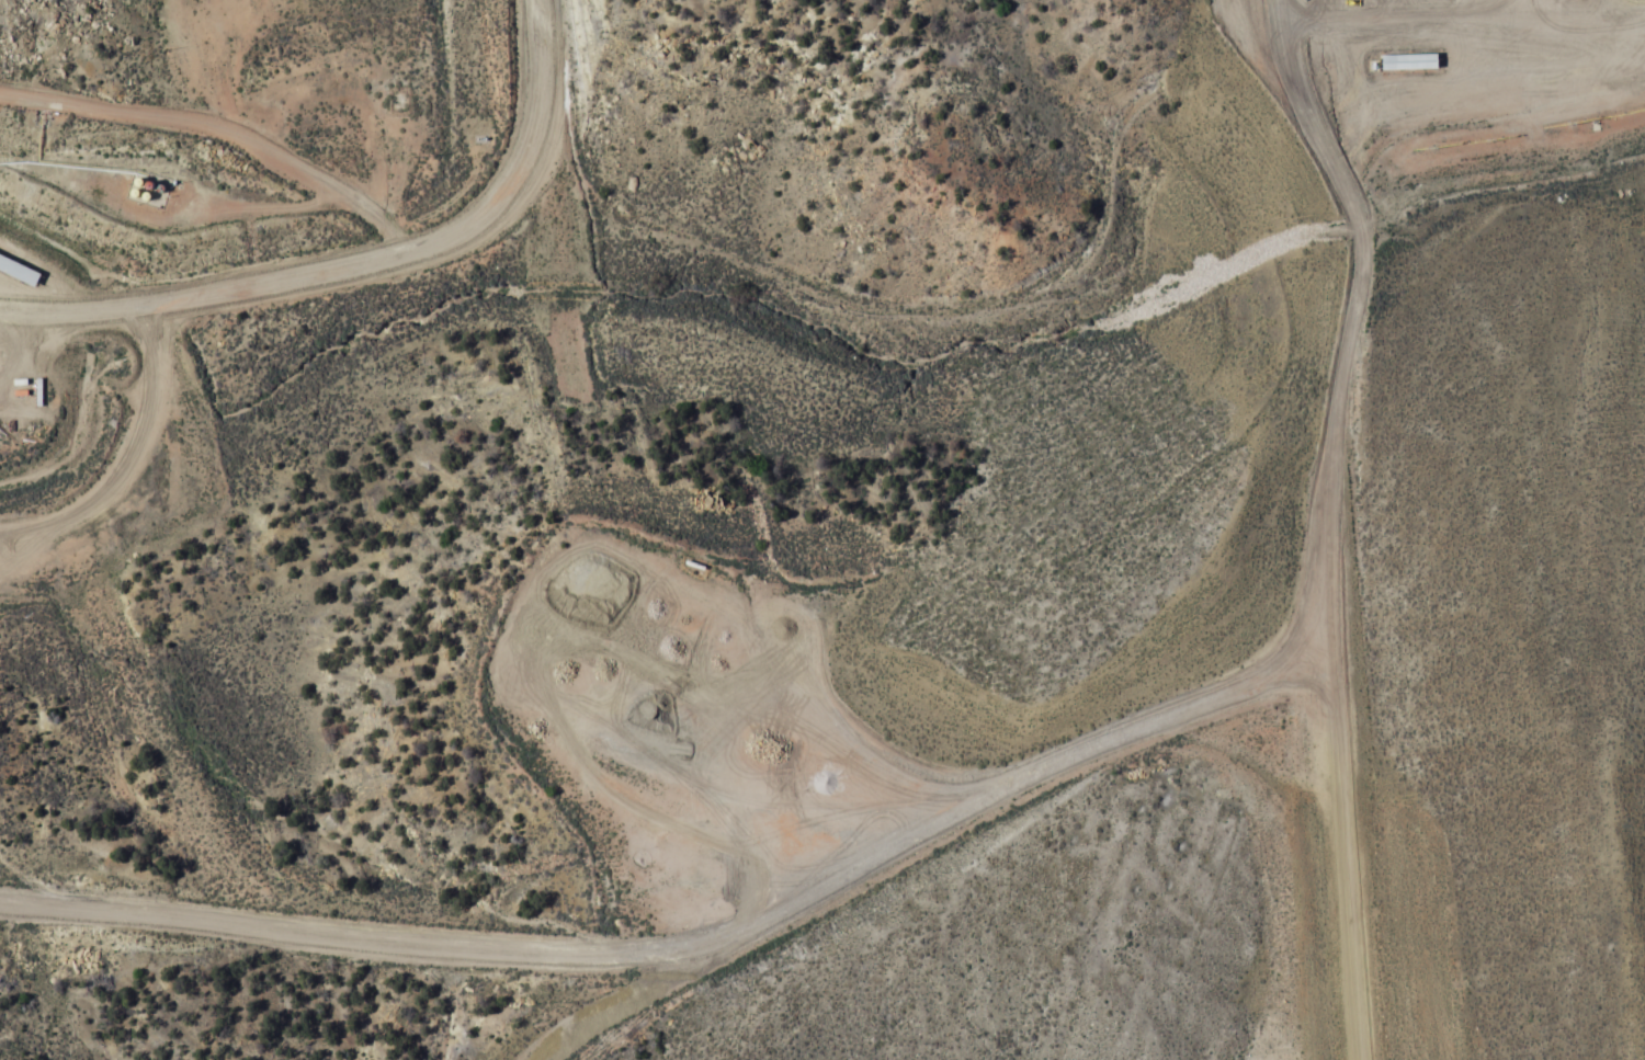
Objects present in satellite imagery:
building: (1634, 78)
road: (361, 263)
road: (1317, 527)
building: (678, 652)
building: (703, 790)
road: (918, 836)
road: (404, 932)

